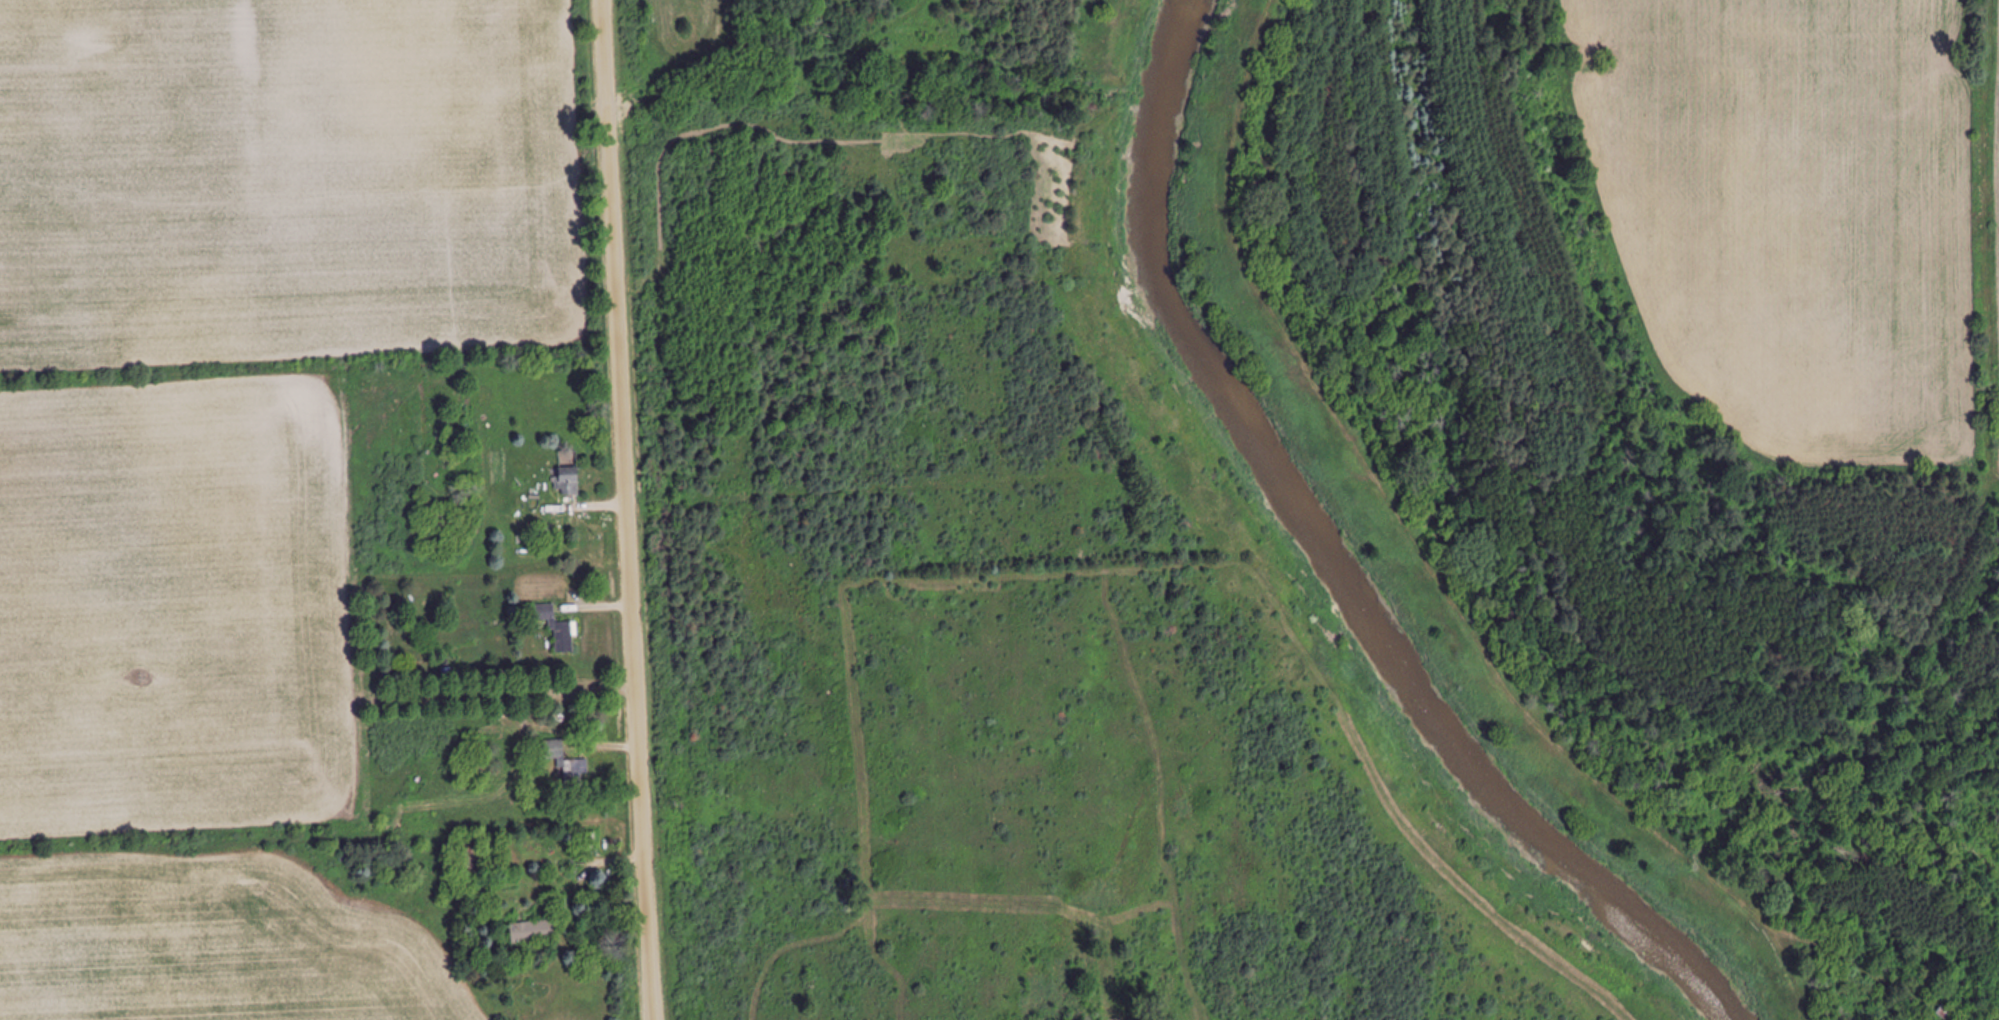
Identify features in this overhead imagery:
building: (566, 482)
road: (620, 510)
building: (541, 535)
river: (1328, 562)
building: (557, 628)
building: (564, 764)
building: (478, 766)
building: (587, 840)
building: (474, 859)
building: (532, 933)

